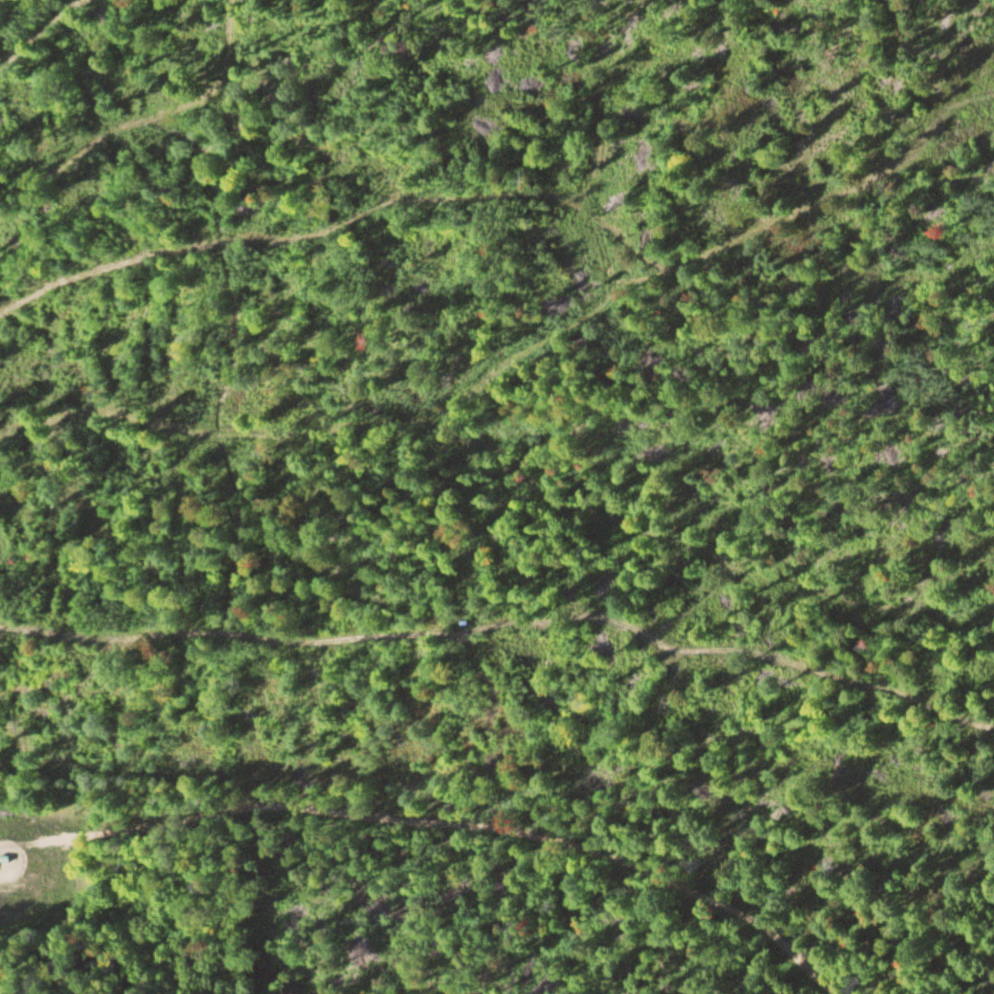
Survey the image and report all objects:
petroleum well: (2, 865)

